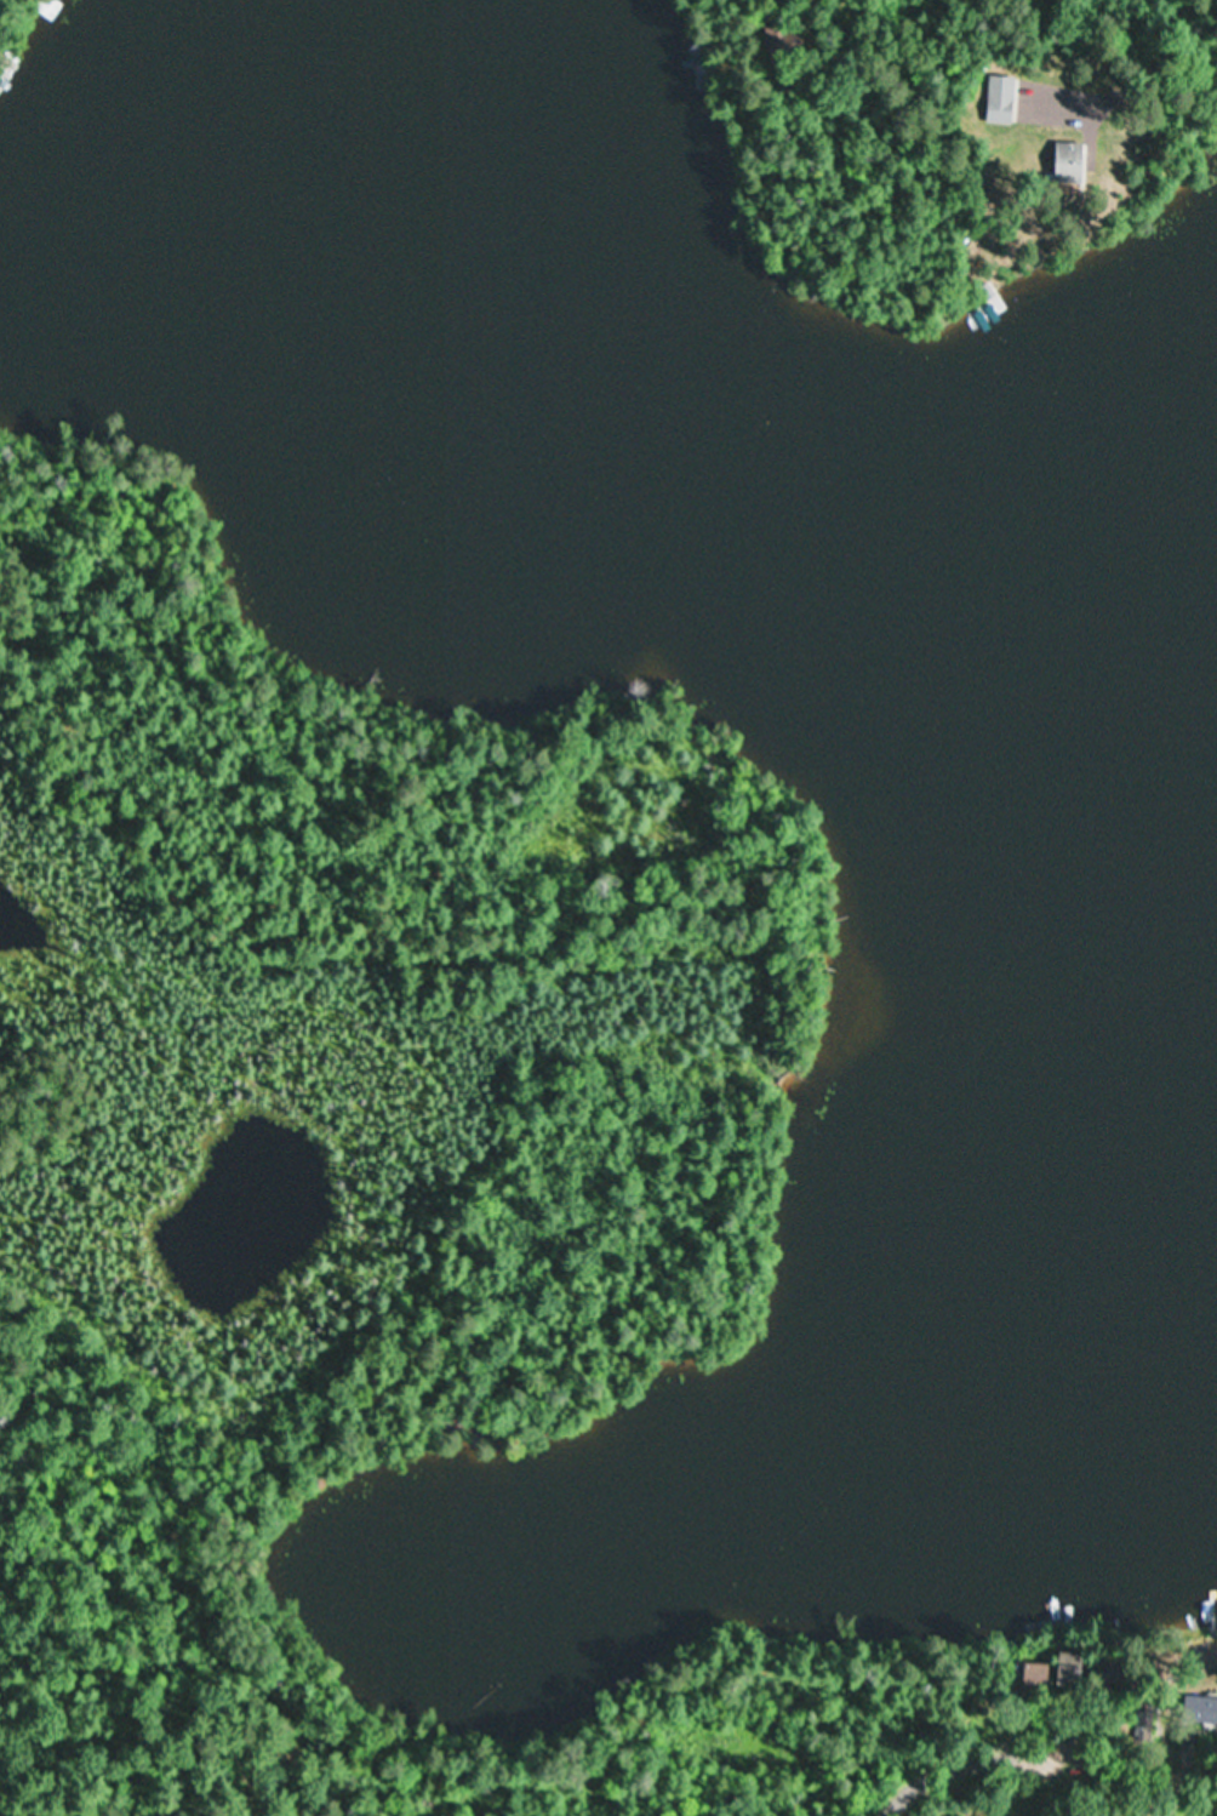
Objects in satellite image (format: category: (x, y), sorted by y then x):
building: (999, 98)
building: (1067, 161)
building: (987, 307)
river: (685, 495)
river: (1176, 1090)
building: (1053, 1668)
building: (1199, 1709)

